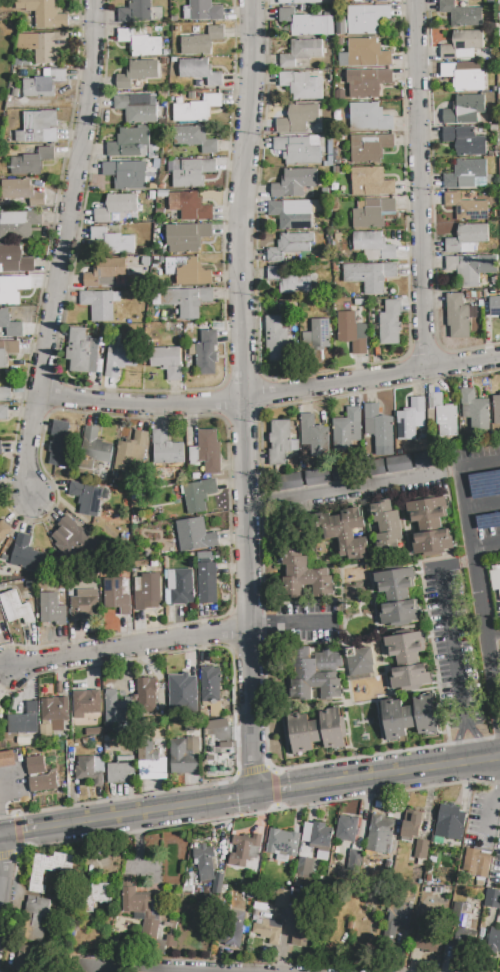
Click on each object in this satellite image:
building: (376, 1)
building: (498, 1)
building: (299, 2)
building: (202, 11)
building: (136, 12)
building: (44, 13)
building: (462, 14)
building: (367, 19)
building: (307, 23)
building: (340, 26)
building: (201, 42)
building: (141, 43)
building: (44, 45)
building: (462, 45)
building: (301, 52)
building: (365, 54)
building: (139, 72)
building: (200, 72)
building: (463, 78)
building: (368, 82)
building: (43, 84)
building: (302, 85)
building: (136, 109)
building: (197, 109)
building: (465, 110)
building: (369, 118)
building: (298, 119)
building: (38, 128)
building: (195, 138)
building: (465, 141)
building: (129, 143)
building: (369, 147)
building: (299, 150)
building: (32, 162)
building: (192, 173)
building: (127, 174)
building: (464, 174)
building: (370, 182)
building: (294, 183)
road: (418, 186)
building: (21, 194)
road: (431, 205)
building: (116, 207)
building: (190, 207)
building: (466, 207)
building: (373, 213)
building: (290, 217)
building: (18, 225)
building: (186, 237)
building: (466, 238)
building: (110, 241)
building: (374, 244)
building: (290, 246)
road: (64, 250)
building: (14, 259)
building: (184, 266)
building: (464, 270)
building: (104, 271)
building: (369, 275)
building: (205, 277)
building: (289, 281)
building: (13, 289)
building: (187, 301)
building: (100, 304)
building: (495, 306)
building: (459, 315)
building: (390, 323)
building: (9, 325)
building: (352, 332)
building: (317, 336)
building: (276, 338)
building: (8, 351)
building: (81, 352)
building: (206, 353)
road: (424, 353)
building: (120, 359)
building: (167, 361)
road: (322, 371)
road: (263, 380)
road: (140, 388)
building: (6, 394)
road: (271, 394)
road: (343, 396)
road: (244, 397)
building: (496, 409)
building: (474, 410)
building: (4, 412)
building: (443, 416)
building: (409, 419)
building: (378, 425)
building: (347, 429)
building: (312, 432)
building: (279, 442)
building: (62, 446)
road: (39, 447)
building: (0, 449)
building: (167, 449)
building: (209, 451)
building: (96, 453)
building: (132, 454)
building: (194, 456)
building: (426, 459)
road: (479, 463)
building: (399, 464)
building: (324, 476)
building: (289, 481)
road: (352, 484)
parking lot: (484, 489)
building: (198, 495)
building: (87, 498)
road: (259, 499)
road: (482, 505)
building: (387, 522)
building: (429, 528)
building: (4, 532)
building: (347, 533)
building: (152, 534)
building: (160, 535)
building: (193, 536)
building: (73, 539)
road: (486, 546)
building: (27, 554)
road: (261, 558)
building: (305, 575)
building: (495, 579)
building: (207, 583)
road: (485, 584)
building: (179, 587)
building: (147, 590)
road: (479, 595)
building: (116, 596)
building: (398, 598)
building: (85, 605)
building: (17, 609)
building: (52, 610)
building: (0, 619)
road: (262, 625)
road: (300, 625)
road: (259, 627)
road: (447, 627)
road: (228, 632)
road: (430, 634)
road: (493, 634)
road: (493, 636)
road: (134, 646)
road: (224, 648)
building: (360, 661)
building: (408, 661)
road: (496, 661)
building: (316, 675)
building: (211, 687)
building: (186, 691)
building: (146, 695)
building: (86, 703)
building: (114, 707)
building: (56, 709)
building: (0, 717)
building: (410, 717)
road: (465, 717)
building: (0, 718)
building: (23, 724)
building: (316, 732)
road: (496, 736)
road: (482, 739)
road: (467, 741)
road: (456, 743)
building: (185, 756)
building: (7, 759)
building: (151, 763)
road: (298, 767)
building: (91, 769)
road: (251, 770)
building: (122, 771)
road: (495, 772)
building: (39, 775)
road: (378, 776)
road: (71, 806)
road: (491, 812)
road: (128, 814)
road: (3, 817)
building: (450, 822)
building: (412, 827)
building: (347, 828)
building: (317, 835)
building: (381, 837)
building: (283, 843)
building: (245, 845)
building: (421, 852)
road: (1, 857)
building: (353, 861)
building: (477, 862)
building: (204, 863)
building: (304, 867)
building: (49, 869)
building: (97, 896)
building: (282, 898)
building: (493, 899)
building: (137, 903)
building: (35, 919)
building: (398, 919)
building: (171, 926)
building: (232, 927)
building: (150, 928)
building: (268, 930)
building: (301, 932)
building: (464, 938)
building: (429, 939)
building: (494, 942)
building: (27, 958)
road: (114, 970)

